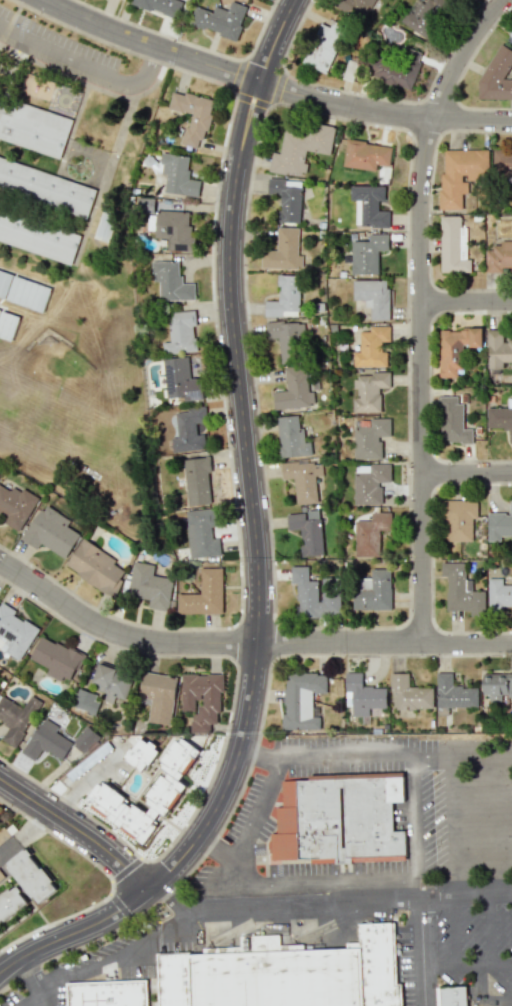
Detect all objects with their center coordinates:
street lamp: (269, 4)
building: (160, 6)
building: (354, 7)
building: (422, 15)
building: (220, 19)
building: (510, 33)
building: (323, 46)
road: (85, 64)
building: (395, 68)
road: (233, 72)
building: (496, 76)
building: (192, 116)
road: (471, 118)
building: (33, 128)
building: (299, 147)
building: (365, 155)
building: (502, 162)
building: (460, 174)
building: (177, 175)
building: (45, 187)
building: (287, 198)
building: (369, 205)
building: (105, 225)
building: (174, 229)
building: (38, 236)
building: (283, 250)
building: (368, 253)
building: (499, 257)
building: (172, 281)
building: (23, 289)
building: (373, 296)
building: (285, 297)
road: (465, 300)
road: (418, 310)
building: (8, 322)
building: (180, 333)
building: (287, 339)
building: (371, 347)
building: (455, 349)
building: (498, 349)
building: (183, 378)
building: (294, 390)
building: (369, 391)
building: (501, 418)
park: (82, 419)
building: (452, 420)
building: (189, 430)
building: (291, 438)
building: (370, 438)
road: (465, 470)
building: (303, 479)
building: (197, 481)
building: (369, 483)
building: (15, 506)
building: (459, 519)
building: (499, 525)
building: (51, 531)
building: (307, 531)
building: (201, 534)
building: (370, 534)
road: (259, 541)
building: (95, 567)
building: (150, 586)
building: (461, 590)
building: (374, 591)
building: (205, 592)
building: (499, 594)
building: (313, 595)
building: (14, 632)
road: (466, 641)
road: (199, 643)
building: (57, 658)
building: (112, 683)
building: (409, 693)
building: (453, 693)
building: (362, 695)
building: (158, 696)
building: (201, 699)
building: (85, 700)
building: (301, 700)
building: (16, 718)
building: (85, 738)
building: (46, 741)
building: (141, 754)
road: (80, 783)
building: (166, 790)
building: (339, 818)
road: (248, 820)
road: (79, 829)
road: (26, 833)
building: (2, 836)
road: (421, 850)
building: (31, 875)
road: (416, 890)
road: (465, 900)
building: (10, 901)
road: (350, 908)
road: (491, 931)
road: (453, 934)
parking lot: (477, 941)
road: (118, 950)
road: (502, 964)
road: (483, 965)
road: (447, 966)
building: (286, 973)
road: (35, 982)
building: (109, 994)
parking lot: (35, 996)
building: (449, 996)
road: (479, 998)

